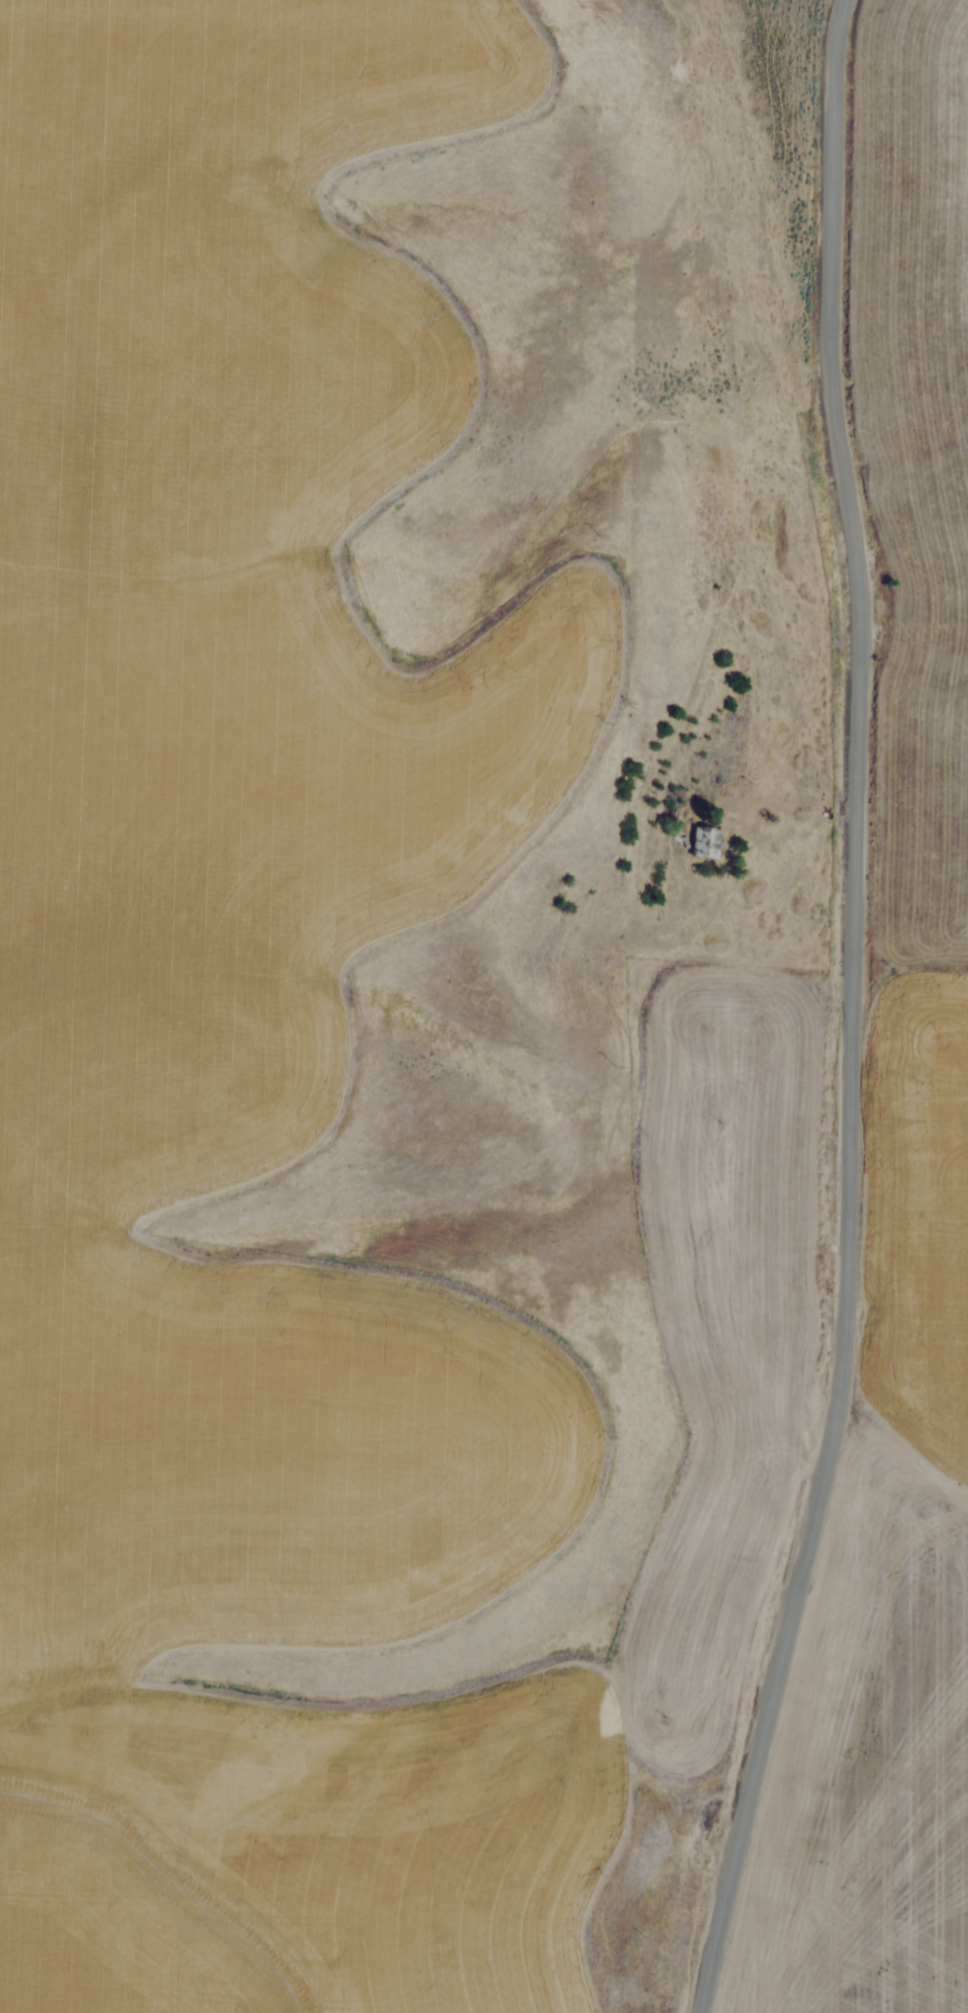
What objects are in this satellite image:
road: (844, 1013)

